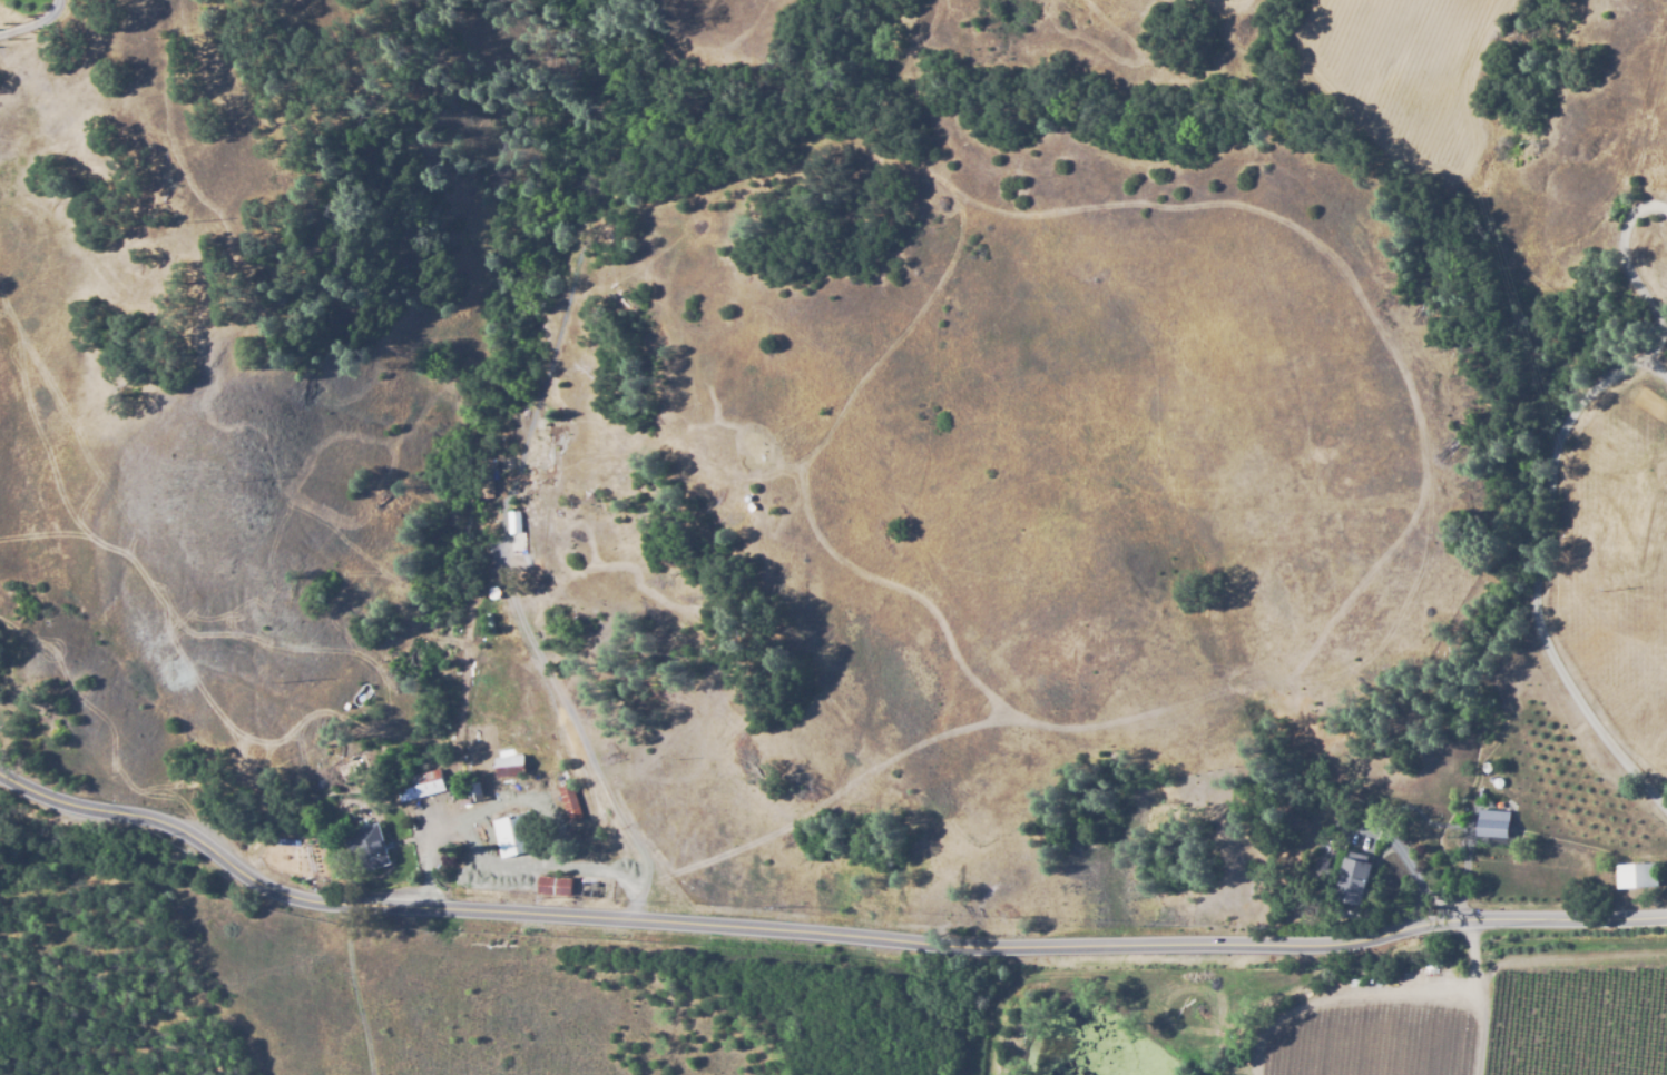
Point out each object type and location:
road: (1550, 485)
building: (481, 486)
building: (511, 523)
building: (492, 591)
building: (489, 622)
building: (369, 700)
building: (345, 707)
building: (510, 766)
building: (460, 772)
road: (582, 773)
building: (416, 787)
building: (473, 793)
building: (568, 803)
building: (547, 823)
building: (1337, 823)
building: (1494, 823)
building: (514, 835)
building: (369, 848)
building: (1637, 876)
building: (1355, 877)
building: (555, 885)
road: (820, 936)
road: (354, 992)
road: (1481, 997)

